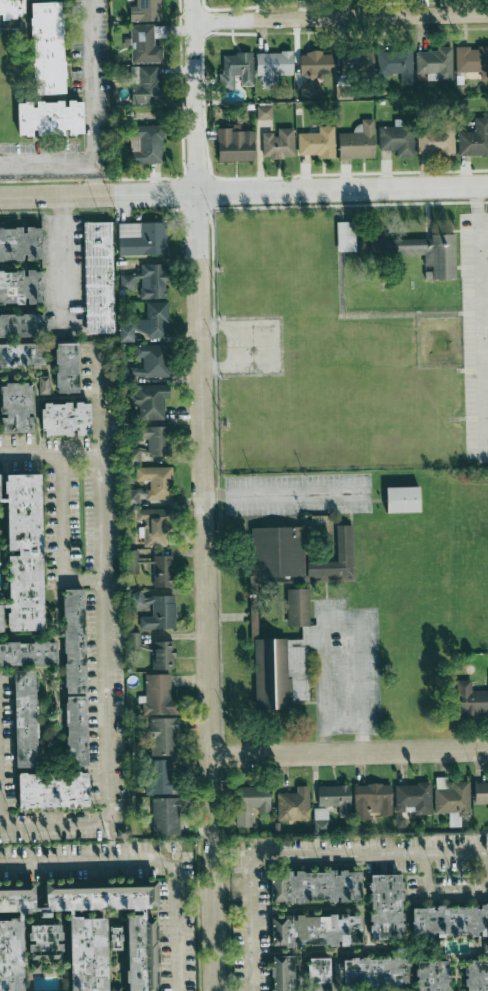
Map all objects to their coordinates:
building: (12, 9)
building: (145, 11)
road: (341, 13)
building: (144, 45)
building: (47, 48)
building: (356, 60)
building: (472, 61)
building: (434, 63)
building: (395, 64)
building: (314, 65)
building: (273, 67)
building: (236, 70)
building: (147, 86)
road: (91, 97)
building: (264, 112)
building: (50, 118)
building: (437, 138)
building: (474, 139)
building: (397, 140)
building: (358, 141)
building: (316, 142)
building: (147, 143)
building: (278, 143)
building: (234, 144)
road: (46, 162)
road: (244, 191)
building: (345, 236)
building: (142, 238)
building: (20, 243)
building: (422, 253)
road: (62, 265)
building: (98, 277)
building: (147, 281)
building: (20, 287)
road: (481, 313)
building: (154, 320)
building: (21, 325)
building: (127, 333)
building: (21, 354)
building: (149, 363)
building: (66, 367)
building: (150, 400)
building: (16, 407)
building: (130, 414)
building: (66, 419)
building: (151, 444)
road: (50, 455)
building: (151, 485)
road: (285, 487)
building: (0, 494)
road: (205, 495)
building: (402, 499)
building: (155, 525)
road: (61, 536)
building: (23, 552)
building: (297, 556)
building: (151, 567)
road: (104, 605)
building: (154, 610)
road: (342, 614)
building: (0, 618)
building: (133, 640)
building: (28, 653)
building: (162, 655)
building: (285, 658)
building: (74, 677)
building: (158, 695)
building: (471, 699)
building: (25, 718)
building: (161, 735)
road: (349, 751)
building: (159, 777)
building: (53, 790)
building: (480, 793)
building: (335, 798)
building: (413, 798)
building: (452, 798)
building: (371, 800)
building: (250, 803)
building: (293, 805)
building: (165, 816)
building: (320, 819)
road: (55, 823)
road: (301, 853)
road: (86, 861)
building: (315, 886)
road: (437, 889)
building: (385, 907)
building: (450, 921)
road: (174, 925)
building: (316, 930)
building: (78, 937)
building: (284, 973)
building: (318, 974)
building: (371, 974)
building: (432, 975)
building: (476, 975)

